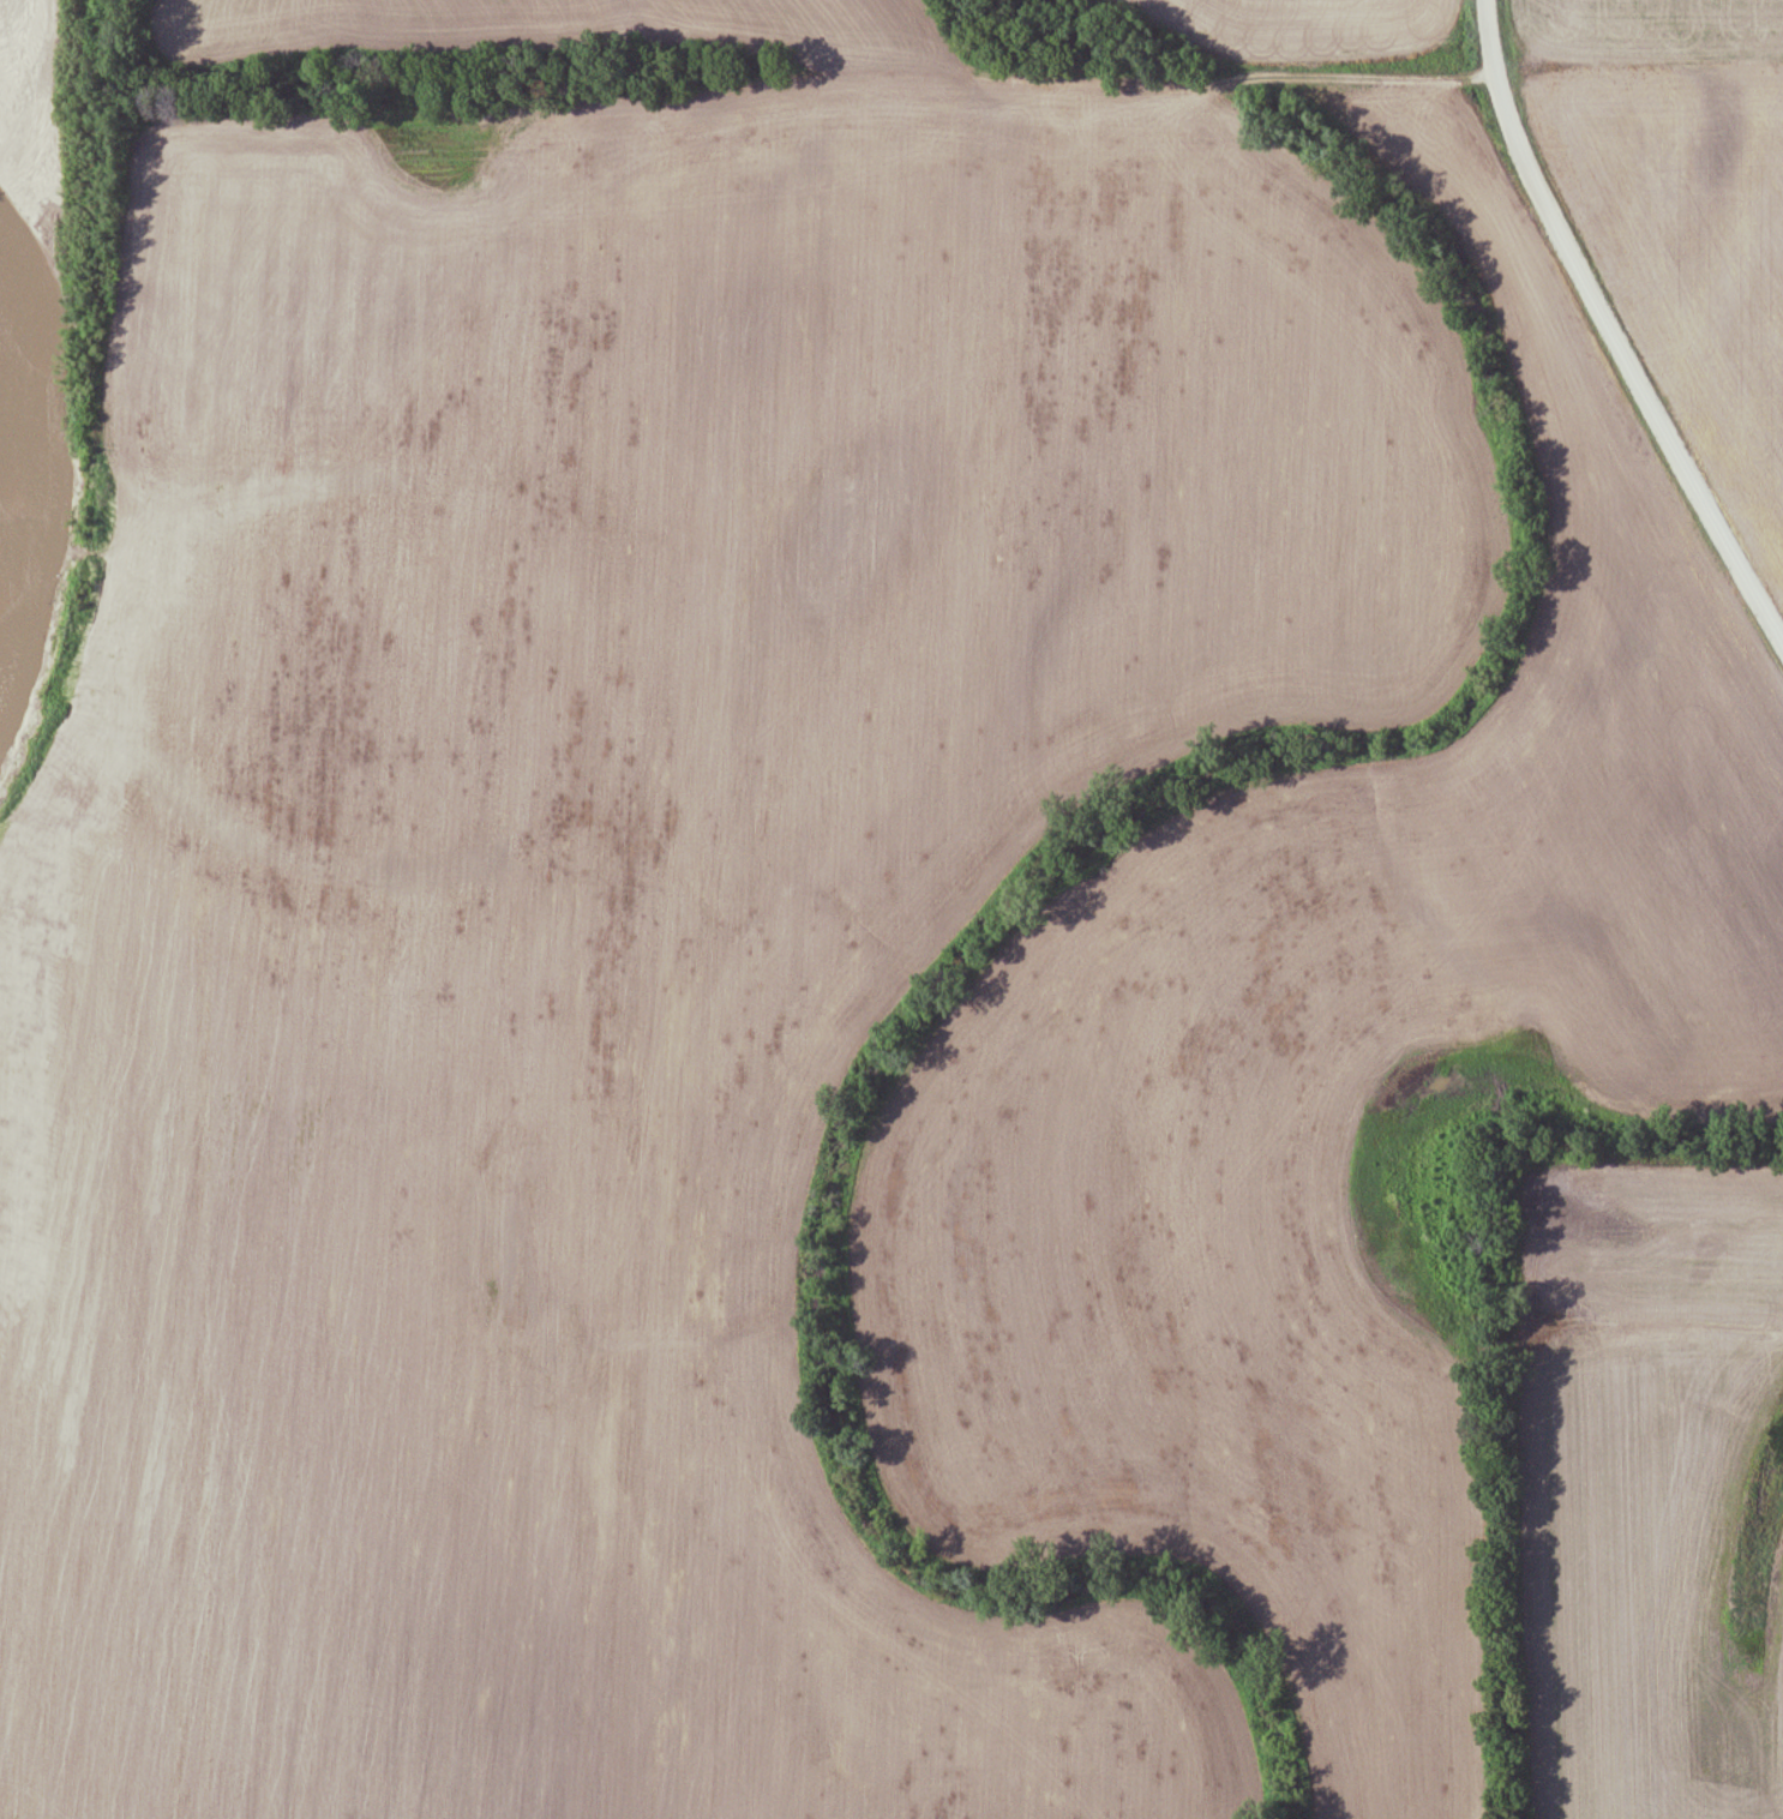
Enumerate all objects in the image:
road: (820, 70)
road: (1611, 328)

